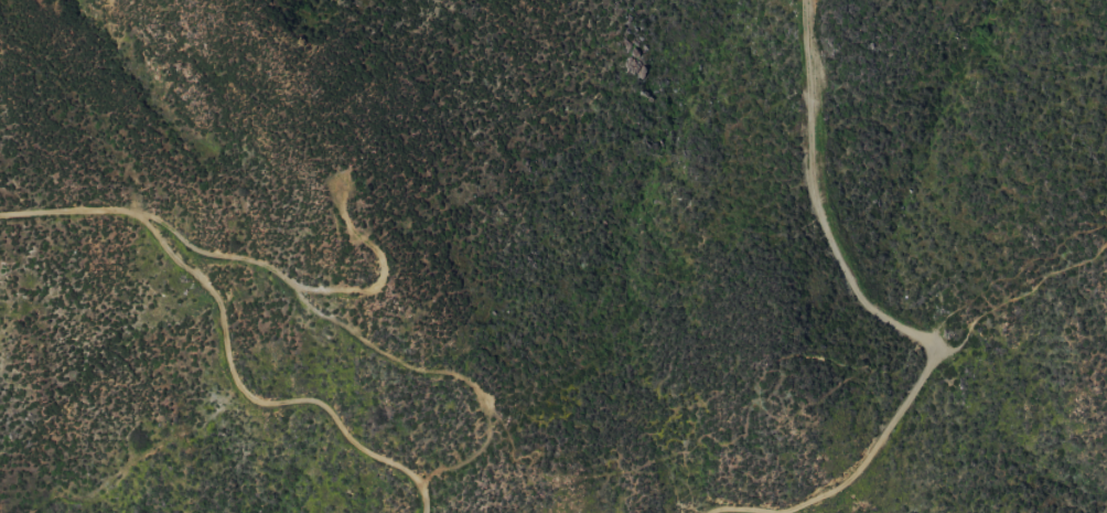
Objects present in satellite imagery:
road: (819, 205)
road: (224, 339)
road: (911, 397)

